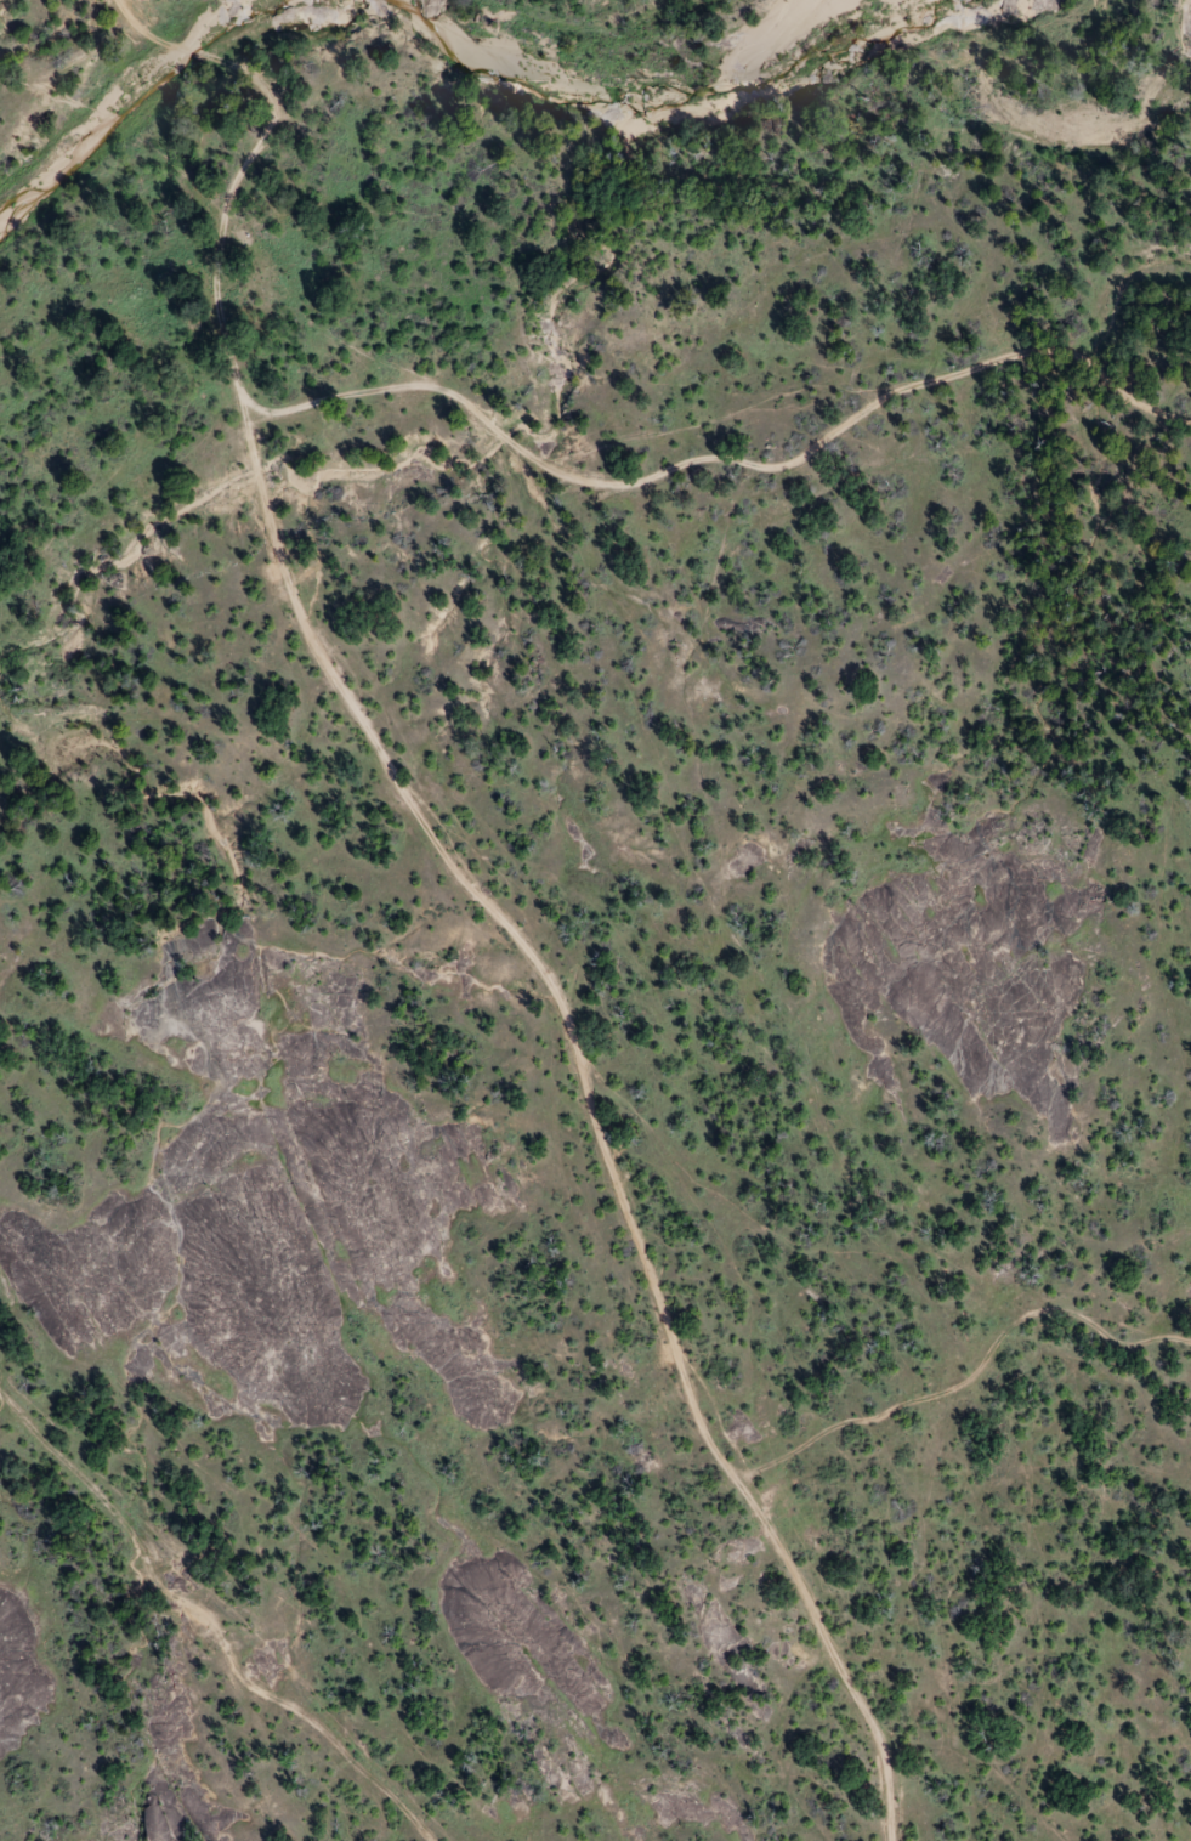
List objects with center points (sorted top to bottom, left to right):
road: (471, 895)

